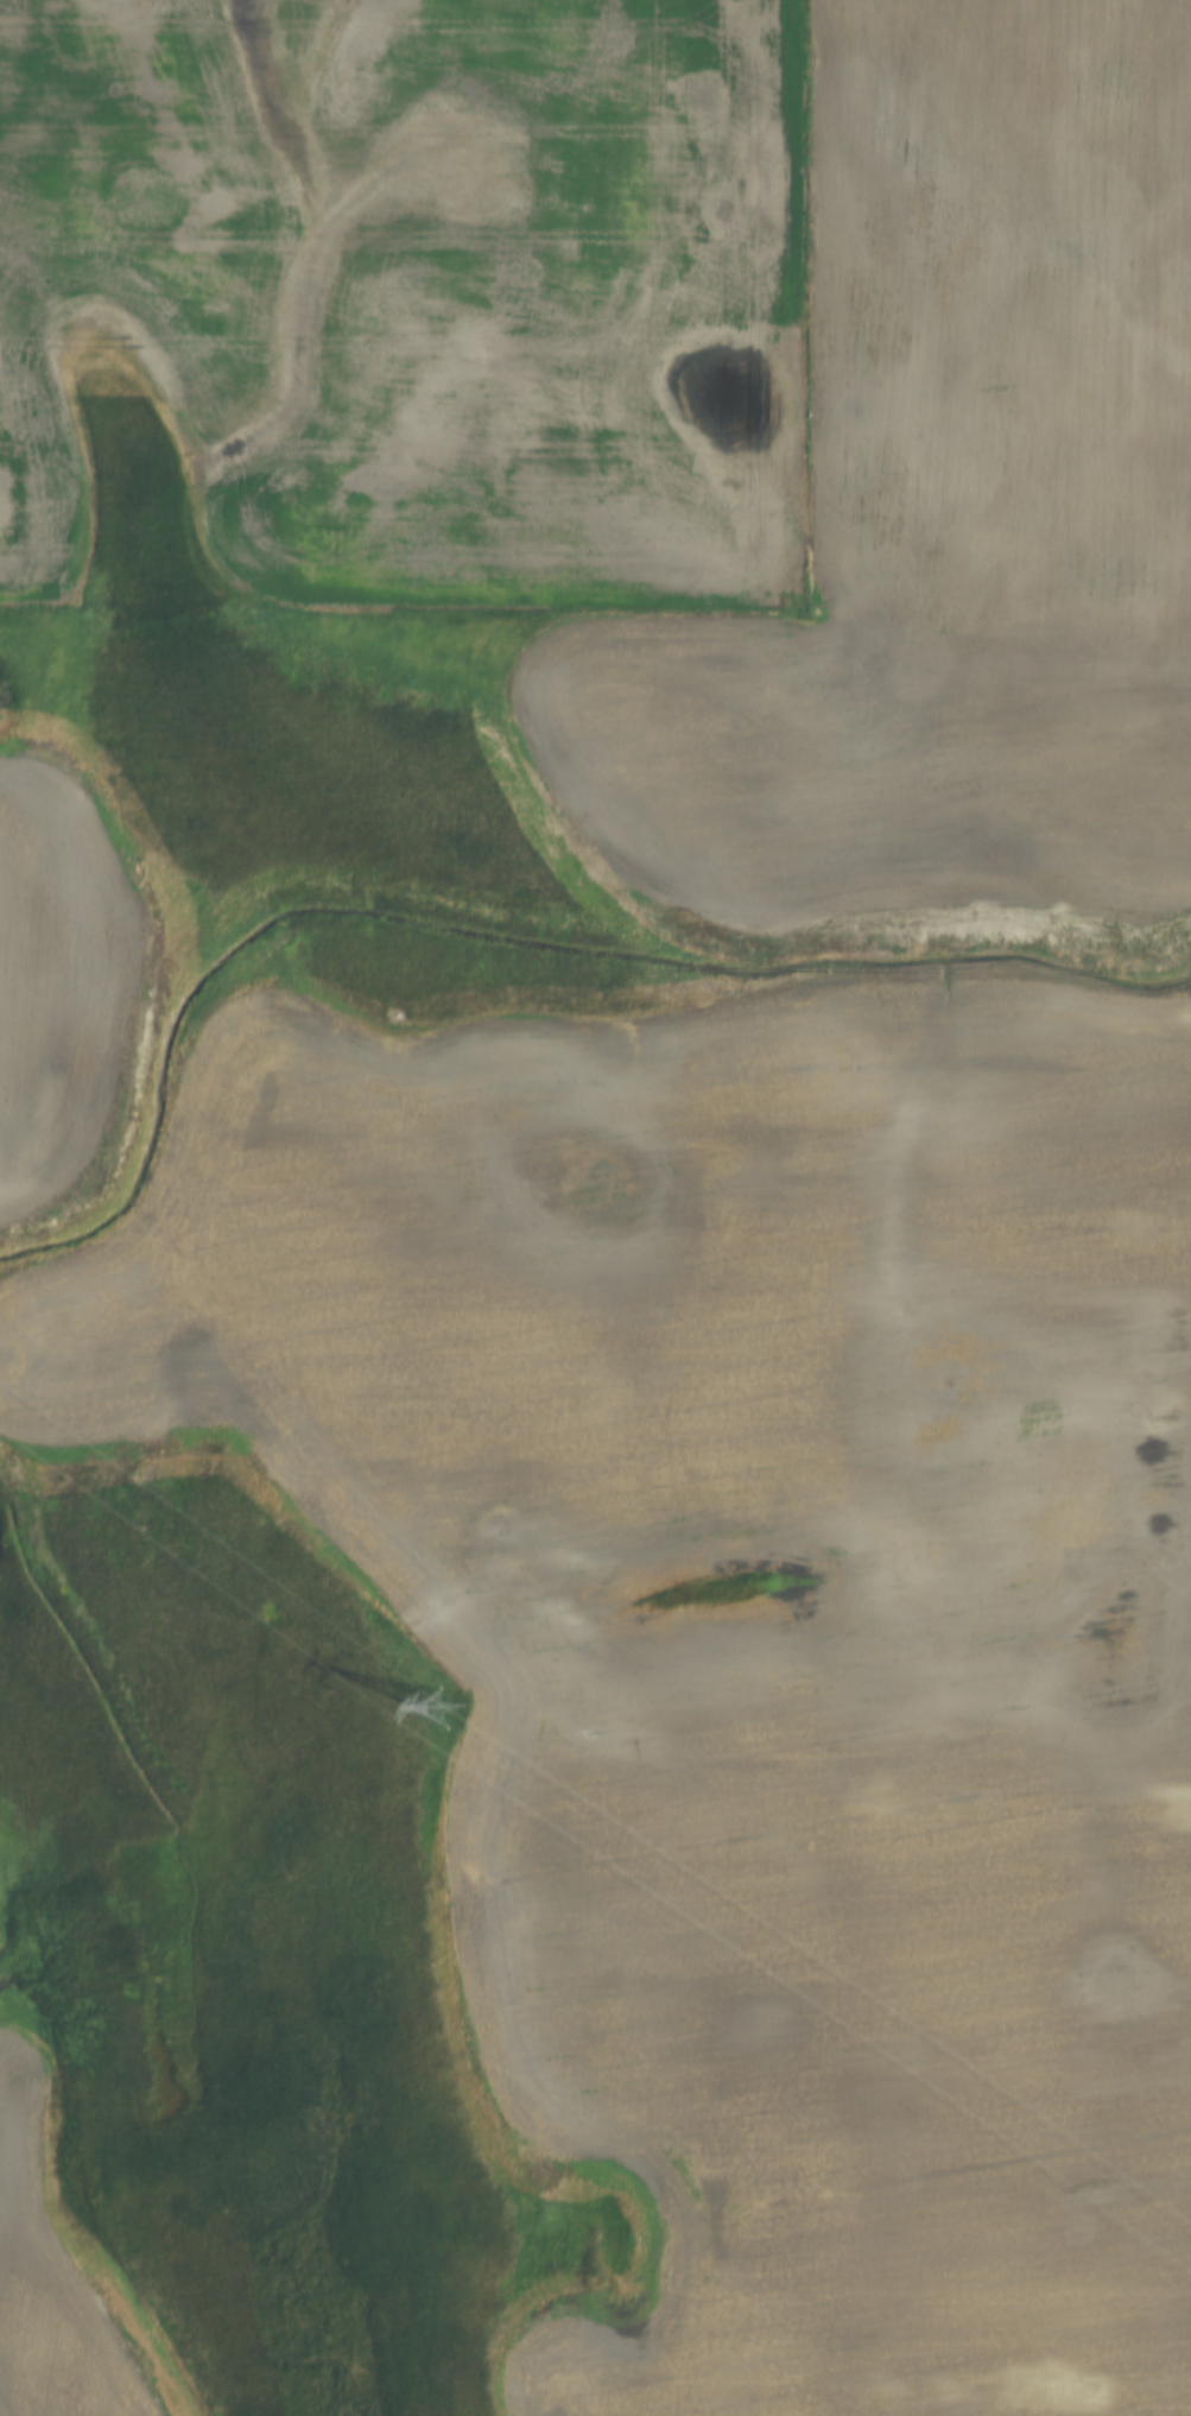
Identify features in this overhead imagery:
power tower: (475, 1718)

